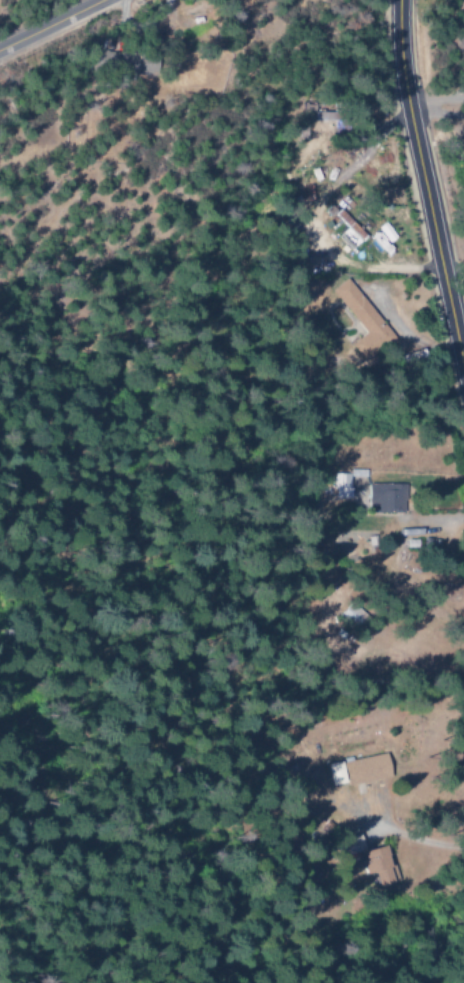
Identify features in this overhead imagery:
road: (50, 24)
building: (112, 62)
building: (304, 108)
road: (424, 188)
building: (342, 229)
building: (383, 233)
building: (358, 320)
building: (338, 486)
building: (381, 498)
building: (354, 771)
building: (362, 860)

